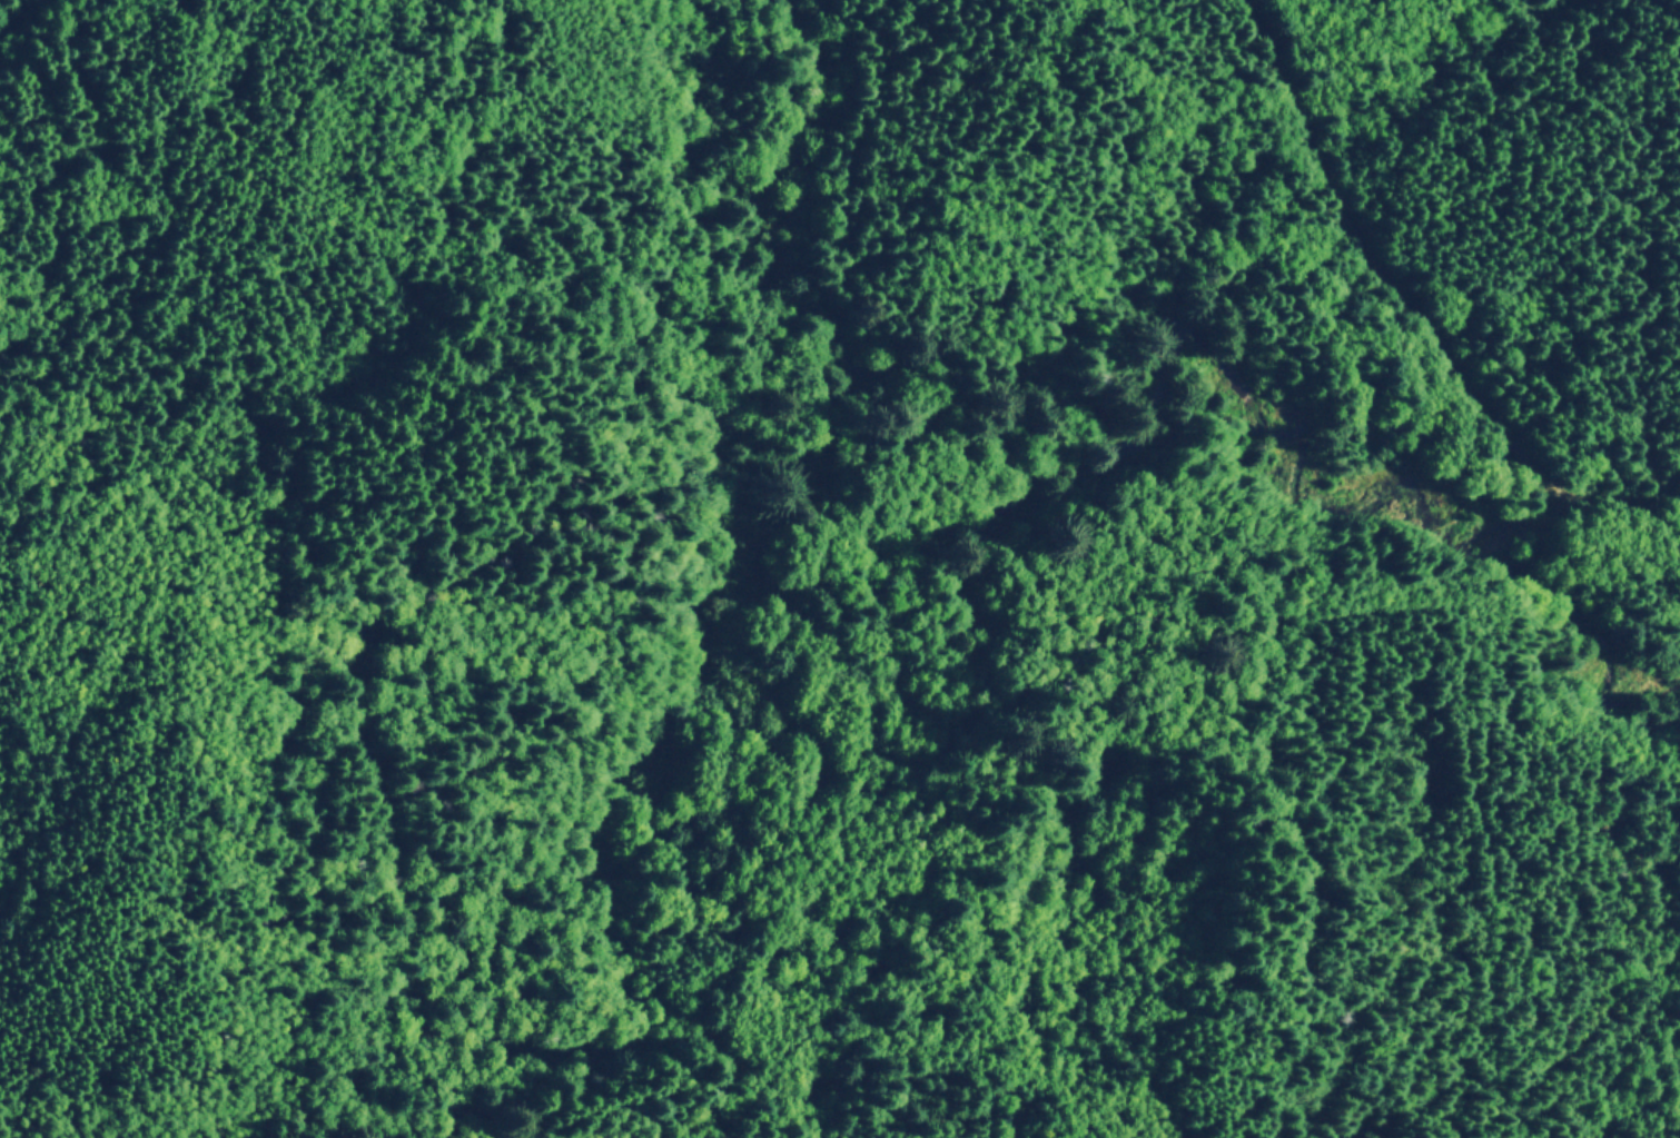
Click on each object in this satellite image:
road: (1441, 224)

